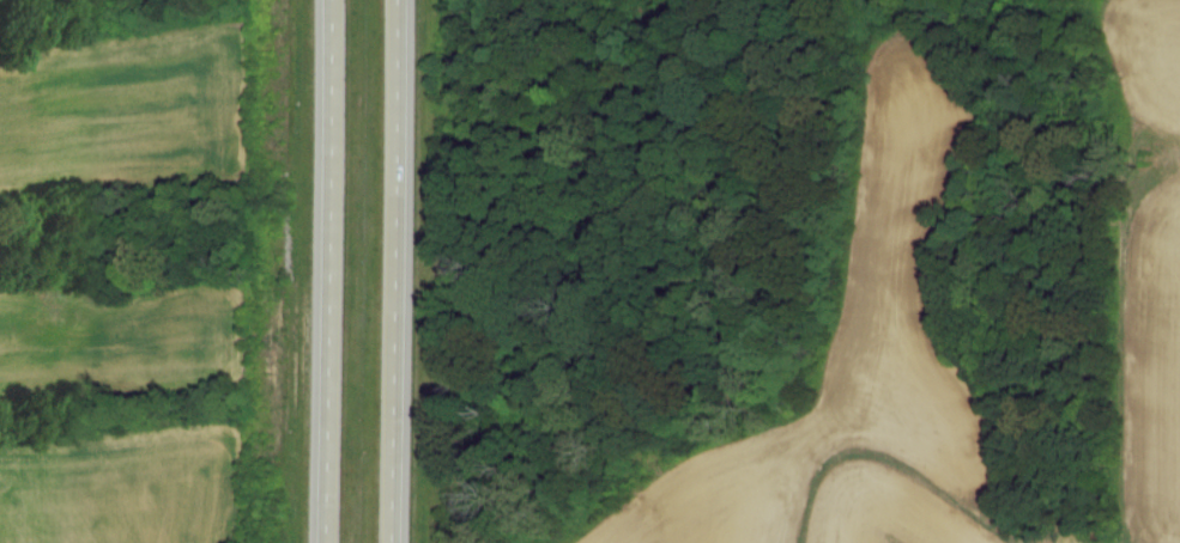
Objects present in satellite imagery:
road: (328, 271)
road: (397, 271)

